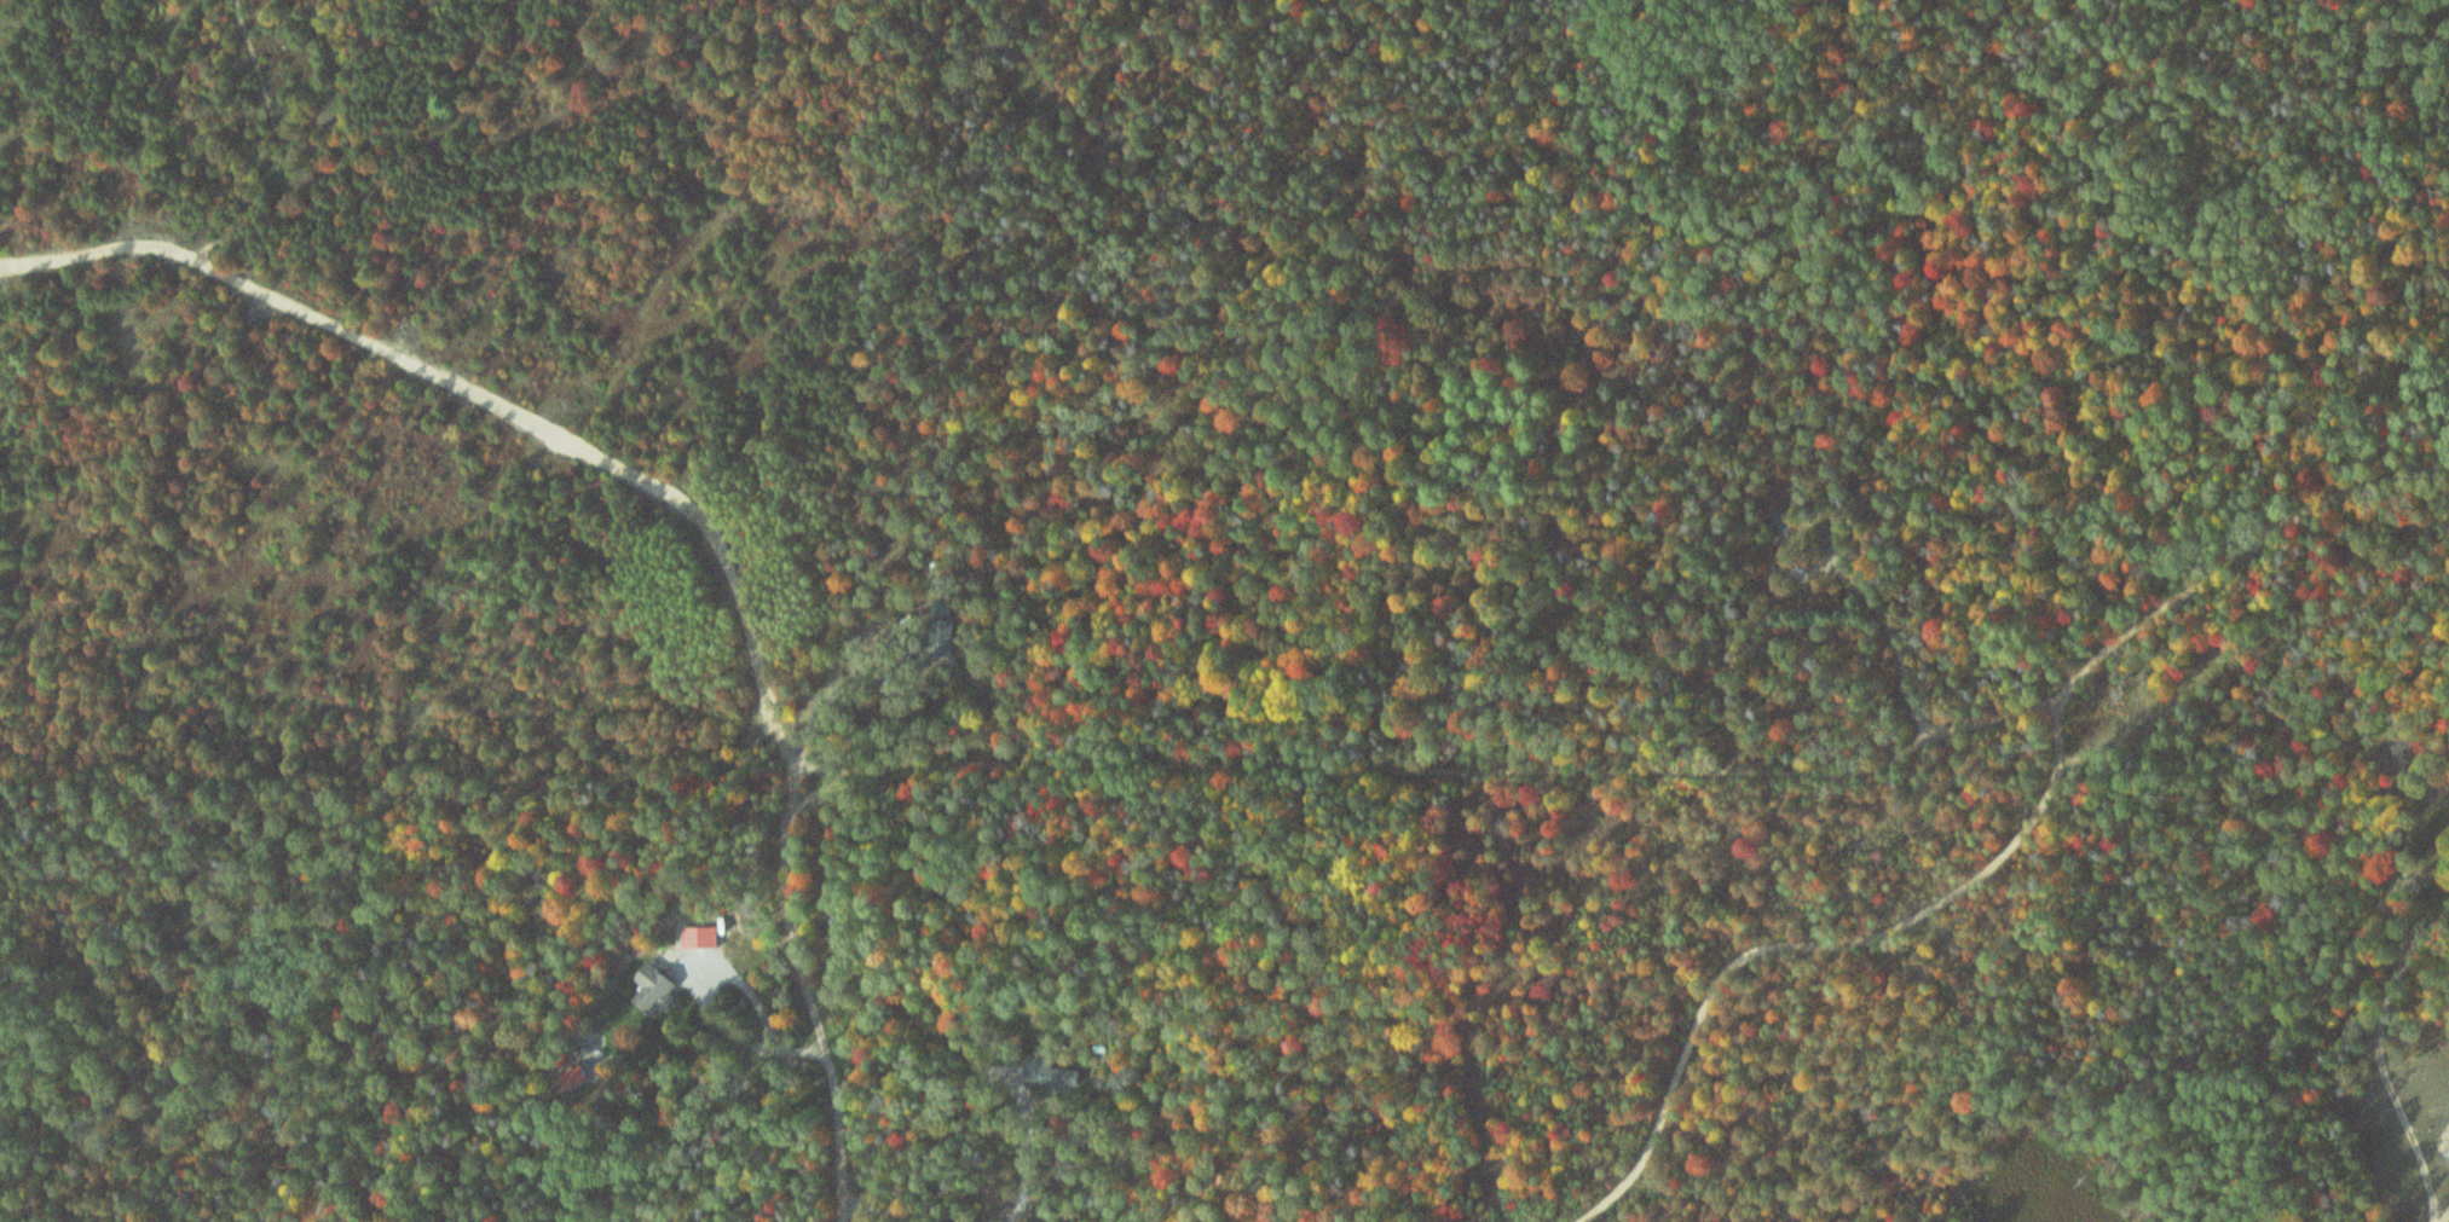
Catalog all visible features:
road: (277, 150)
road: (493, 398)
building: (946, 629)
building: (2147, 723)
road: (1446, 764)
road: (1819, 945)
building: (655, 995)
building: (1058, 1078)
building: (1481, 1083)

